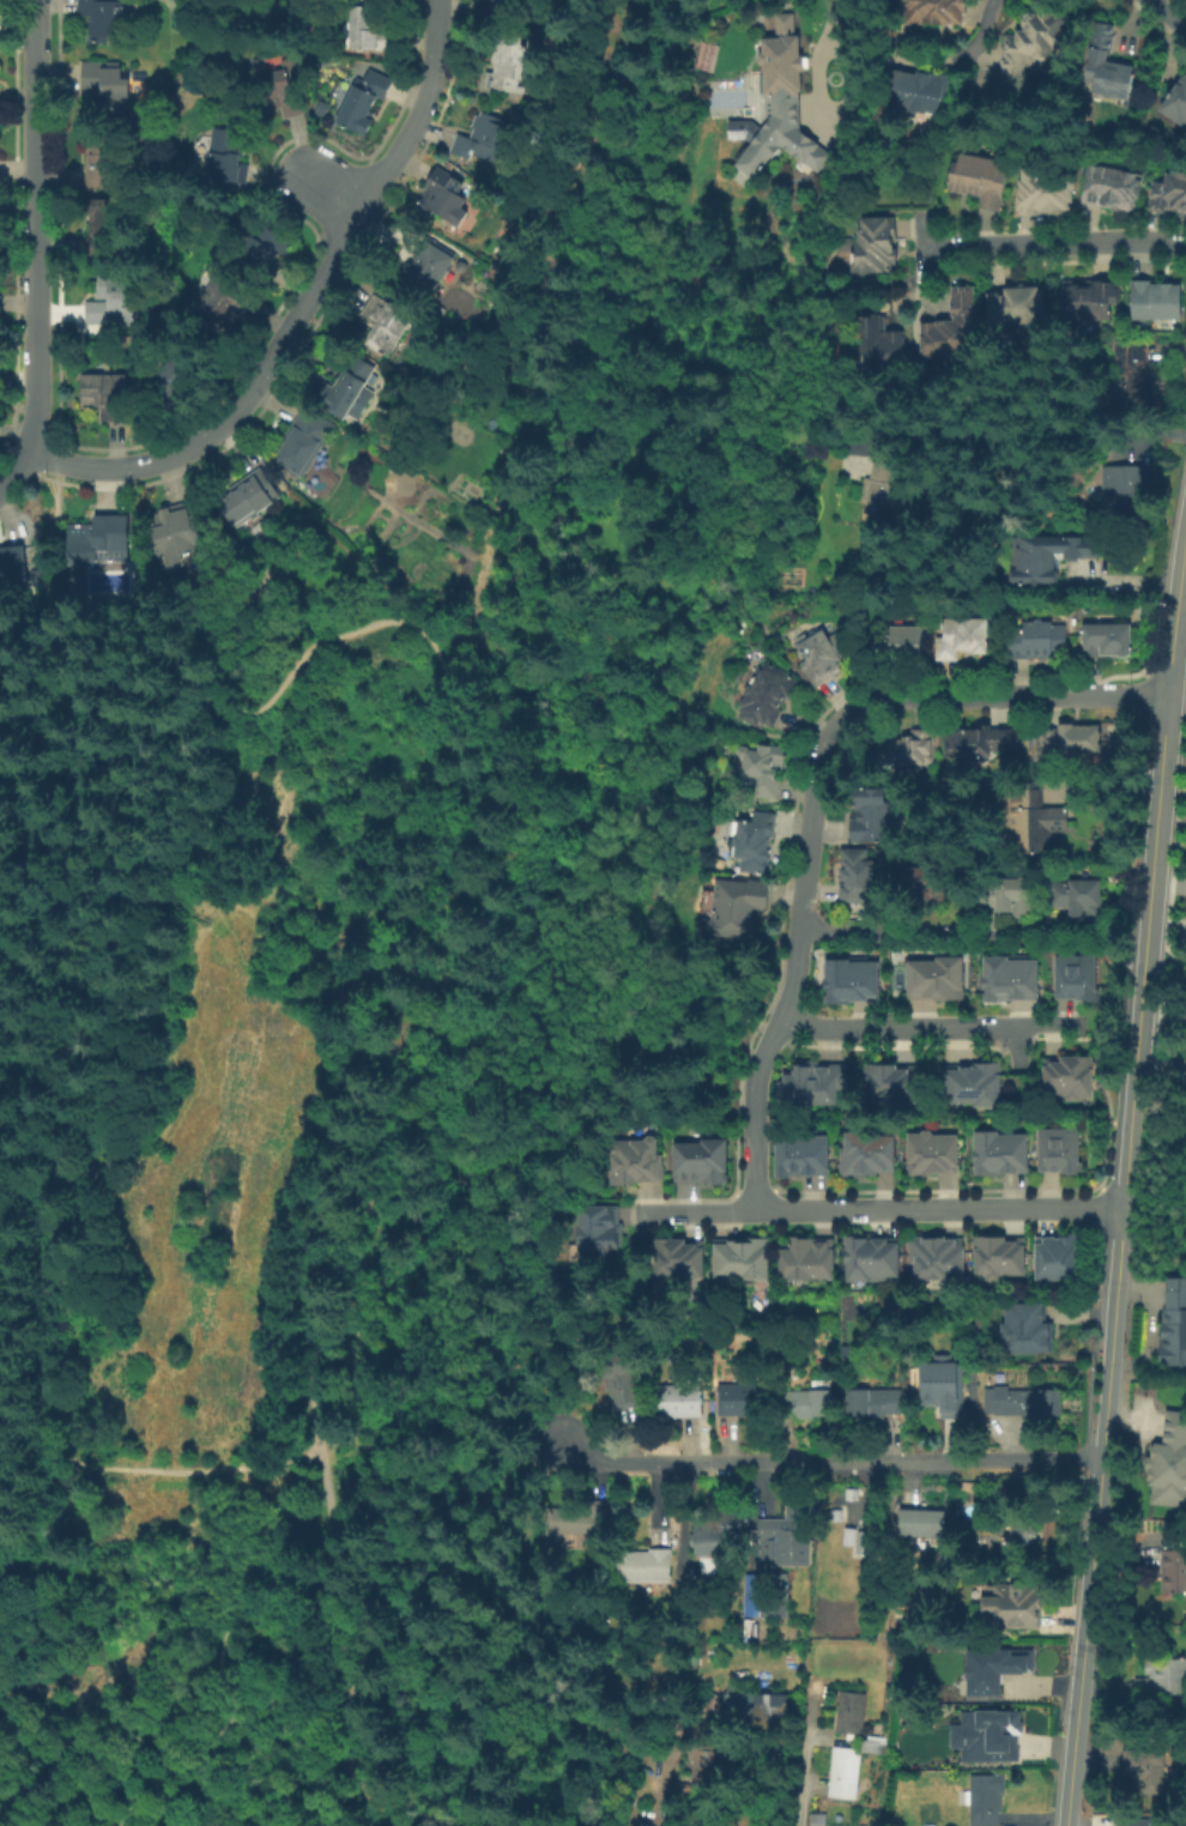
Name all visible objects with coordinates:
road: (707, 2)
building: (497, 8)
road: (1173, 10)
building: (932, 11)
building: (104, 20)
building: (371, 32)
road: (825, 43)
building: (1030, 48)
building: (510, 66)
building: (1107, 68)
building: (107, 84)
building: (286, 91)
building: (919, 92)
building: (365, 101)
building: (782, 104)
building: (1176, 105)
building: (488, 143)
building: (228, 161)
building: (104, 168)
building: (980, 181)
building: (1113, 191)
road: (335, 193)
building: (1046, 193)
building: (1168, 194)
building: (446, 200)
building: (96, 222)
building: (109, 235)
road: (1053, 244)
road: (920, 247)
building: (265, 248)
building: (876, 249)
road: (37, 250)
building: (431, 266)
road: (845, 289)
building: (1089, 301)
building: (229, 302)
building: (1157, 302)
building: (114, 303)
building: (1018, 308)
road: (299, 309)
building: (389, 328)
building: (954, 329)
building: (881, 346)
road: (685, 349)
building: (1136, 371)
building: (171, 381)
building: (351, 392)
building: (105, 397)
building: (303, 441)
building: (890, 485)
building: (1125, 491)
building: (249, 501)
building: (182, 531)
building: (97, 542)
building: (1047, 556)
building: (14, 572)
road: (1174, 604)
road: (66, 629)
building: (962, 640)
building: (1037, 640)
building: (1108, 640)
building: (898, 642)
building: (819, 658)
building: (769, 697)
road: (891, 699)
road: (611, 714)
road: (767, 733)
building: (1071, 740)
building: (981, 745)
building: (906, 749)
building: (763, 770)
building: (870, 816)
building: (1030, 821)
building: (752, 845)
building: (857, 876)
road: (1148, 883)
building: (924, 887)
building: (1011, 899)
building: (1078, 900)
building: (734, 908)
road: (876, 930)
road: (1028, 930)
road: (1120, 931)
building: (1077, 980)
building: (936, 981)
building: (1012, 982)
building: (852, 984)
road: (930, 1028)
road: (756, 1068)
road: (99, 1071)
building: (1070, 1078)
building: (815, 1084)
building: (976, 1084)
building: (891, 1088)
building: (1061, 1150)
building: (870, 1153)
building: (1004, 1153)
building: (936, 1154)
building: (803, 1157)
building: (637, 1162)
building: (701, 1163)
road: (879, 1209)
road: (333, 1214)
building: (599, 1233)
building: (875, 1257)
building: (939, 1257)
building: (1003, 1257)
building: (811, 1258)
building: (1060, 1258)
building: (742, 1260)
building: (678, 1262)
road: (1114, 1265)
road: (534, 1295)
building: (1174, 1323)
building: (1029, 1329)
building: (623, 1379)
building: (945, 1385)
building: (976, 1393)
building: (680, 1399)
building: (742, 1401)
building: (1024, 1402)
building: (875, 1403)
building: (806, 1404)
road: (823, 1461)
building: (1168, 1462)
building: (852, 1495)
building: (573, 1522)
building: (924, 1525)
building: (789, 1534)
building: (1022, 1534)
building: (715, 1540)
building: (866, 1543)
building: (645, 1566)
building: (1173, 1572)
building: (767, 1595)
building: (1015, 1606)
road: (1081, 1641)
building: (991, 1669)
road: (180, 1671)
building: (774, 1673)
building: (1162, 1679)
building: (815, 1686)
building: (758, 1711)
building: (851, 1712)
building: (984, 1735)
building: (852, 1766)
building: (708, 1770)
building: (1145, 1770)
road: (308, 1773)
road: (799, 1786)
building: (987, 1800)
building: (1142, 1822)

